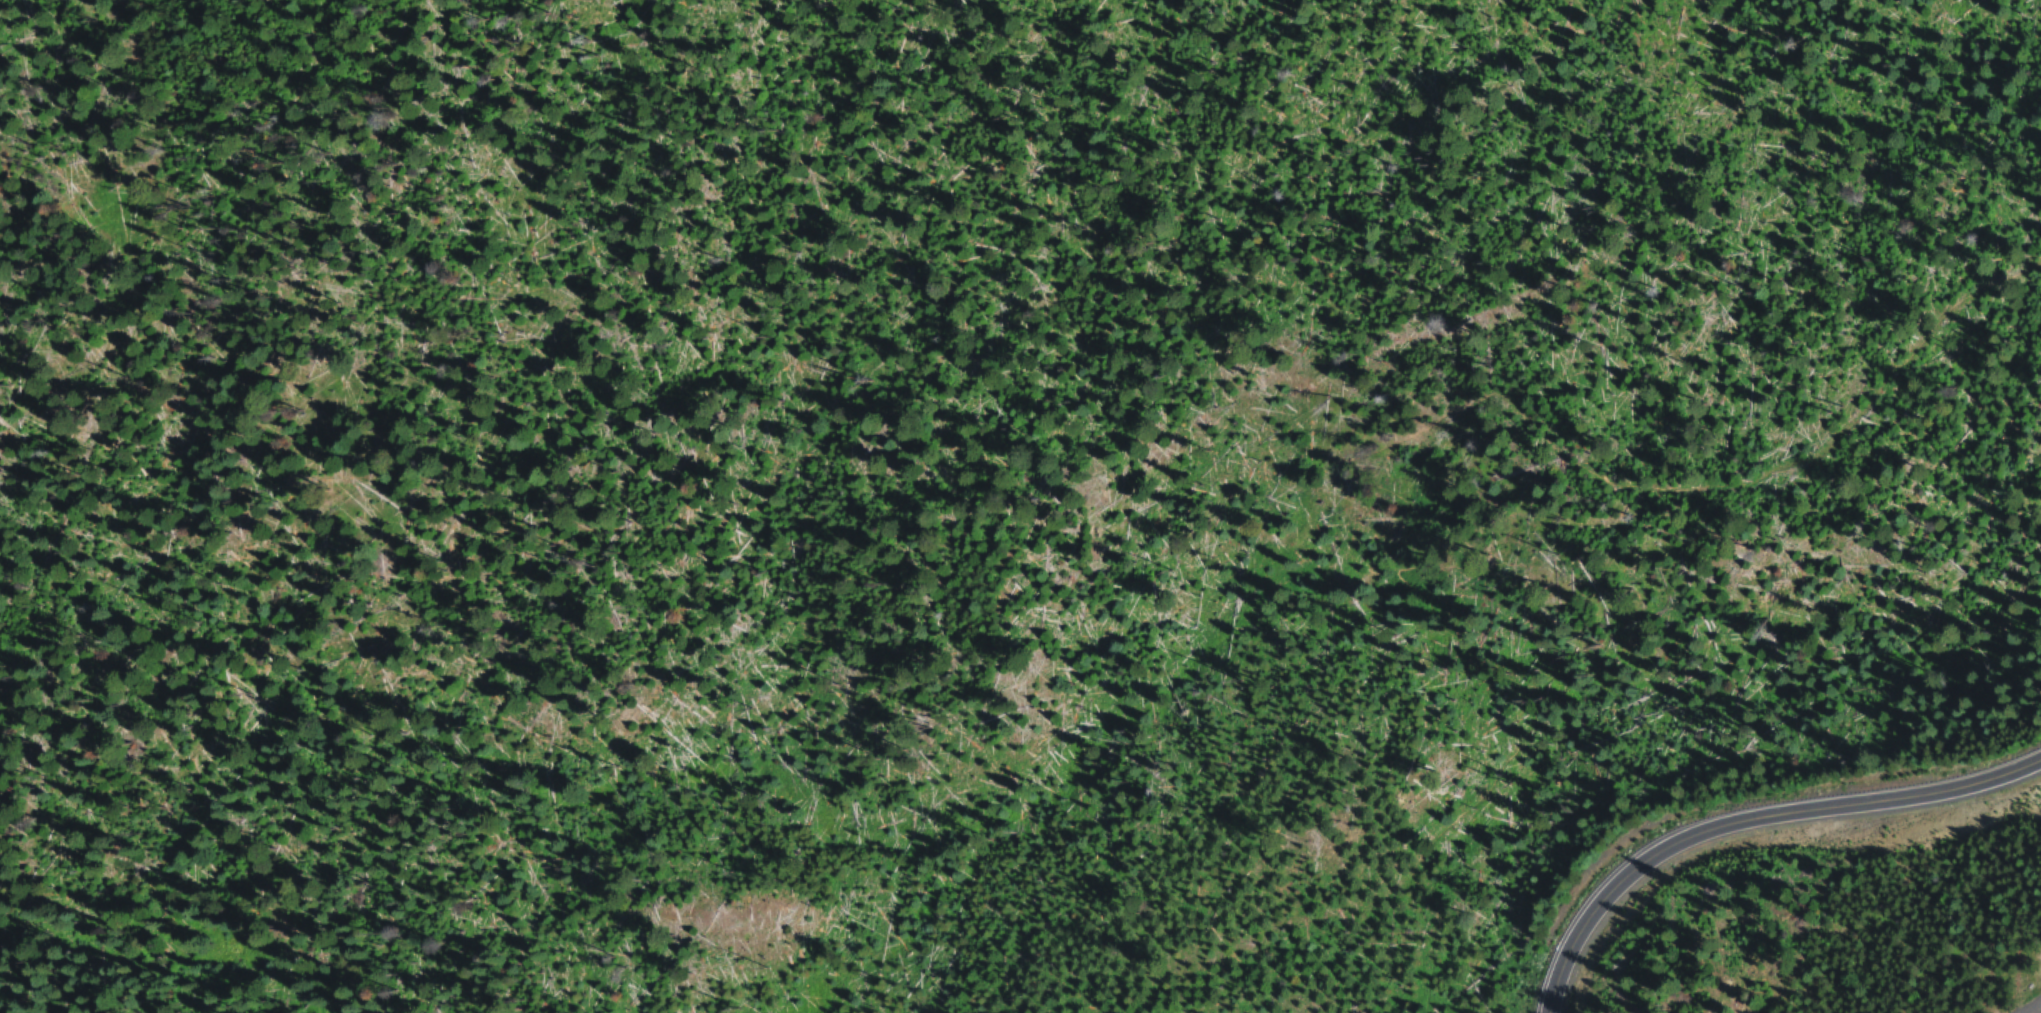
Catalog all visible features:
road: (1749, 815)
parking lot: (2035, 1007)

